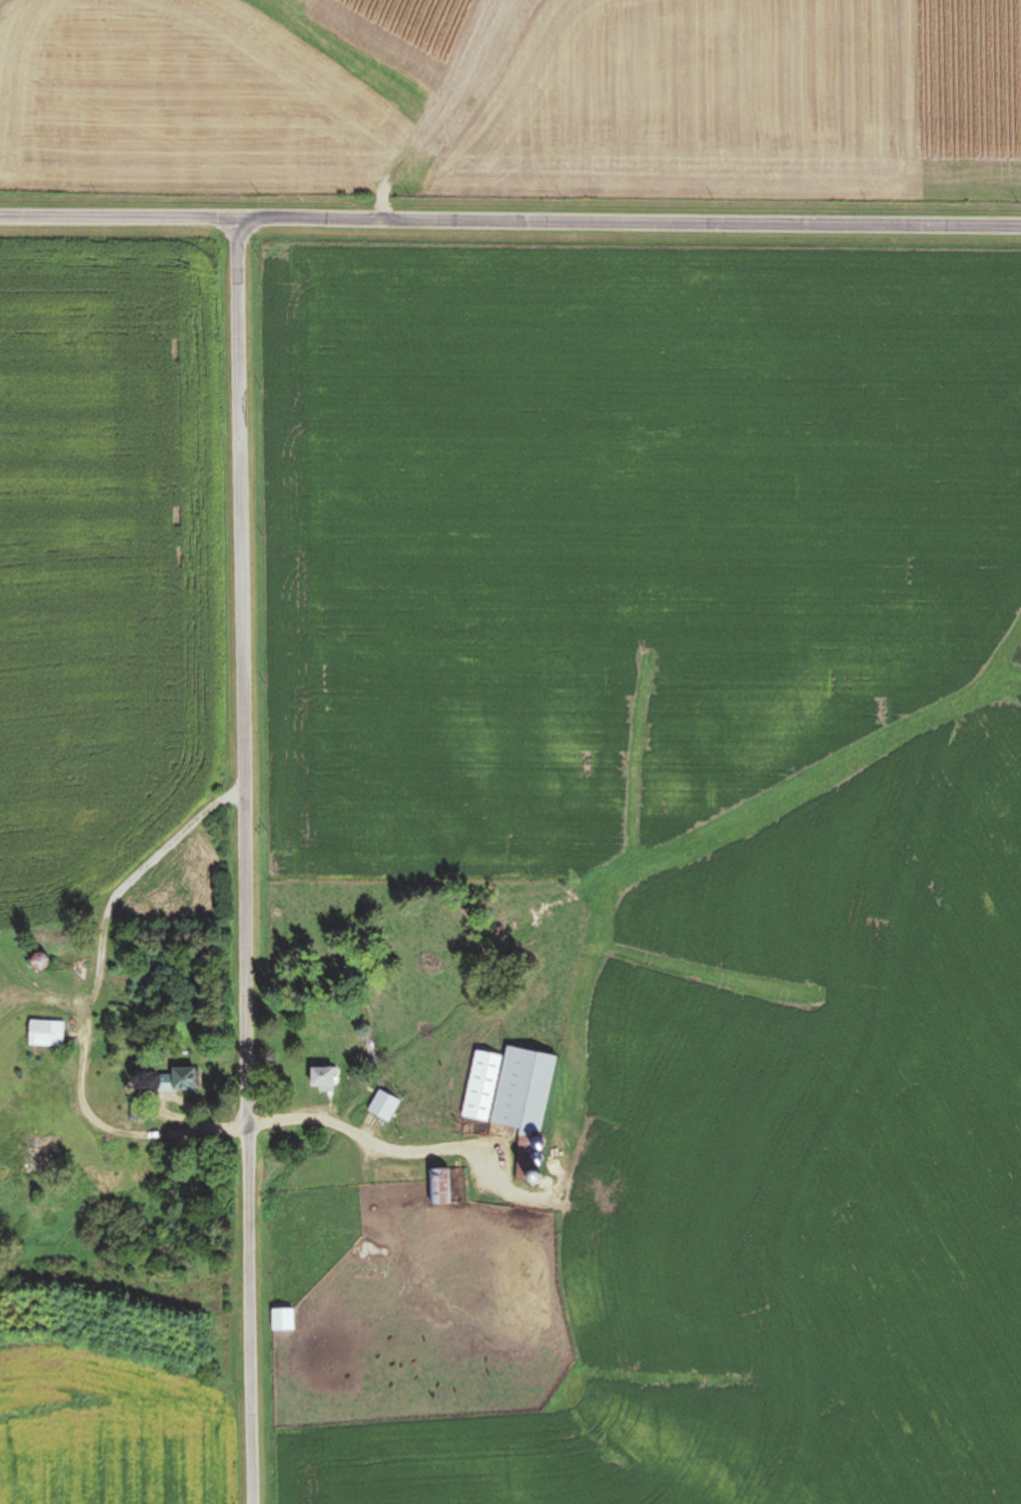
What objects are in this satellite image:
road: (510, 217)
road: (251, 858)
building: (38, 961)
building: (44, 1033)
building: (318, 1079)
building: (175, 1080)
building: (508, 1089)
building: (383, 1106)
road: (382, 1146)
building: (438, 1187)
building: (282, 1320)

